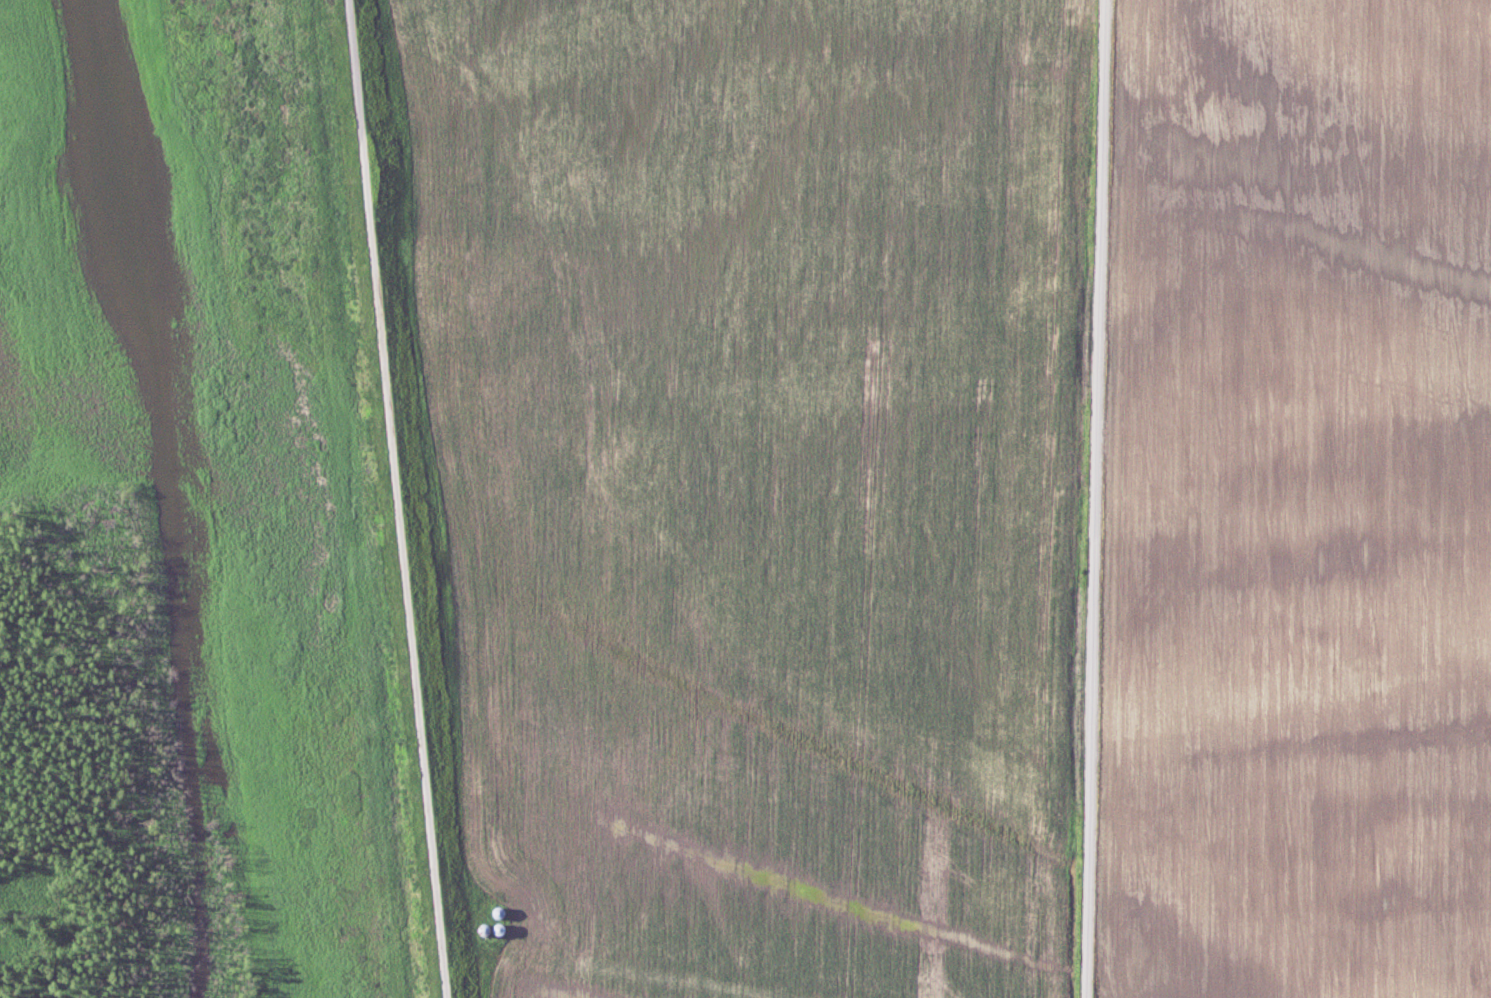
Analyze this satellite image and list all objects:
road: (399, 498)
road: (1096, 498)
road: (634, 969)

